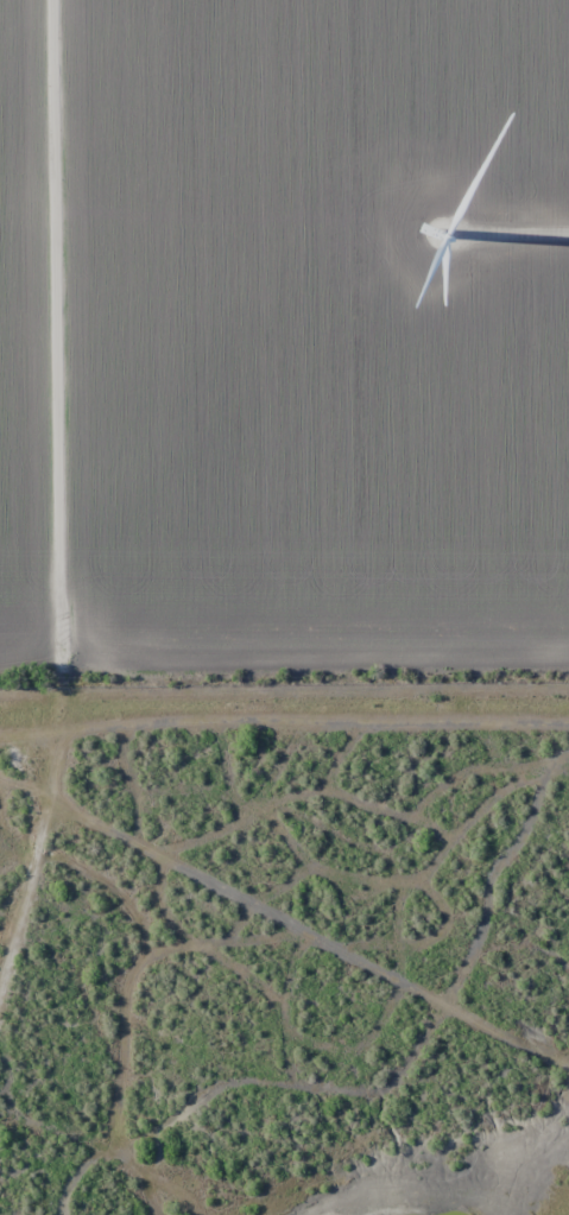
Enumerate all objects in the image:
road: (33, 71)
wind turbine: (444, 234)

